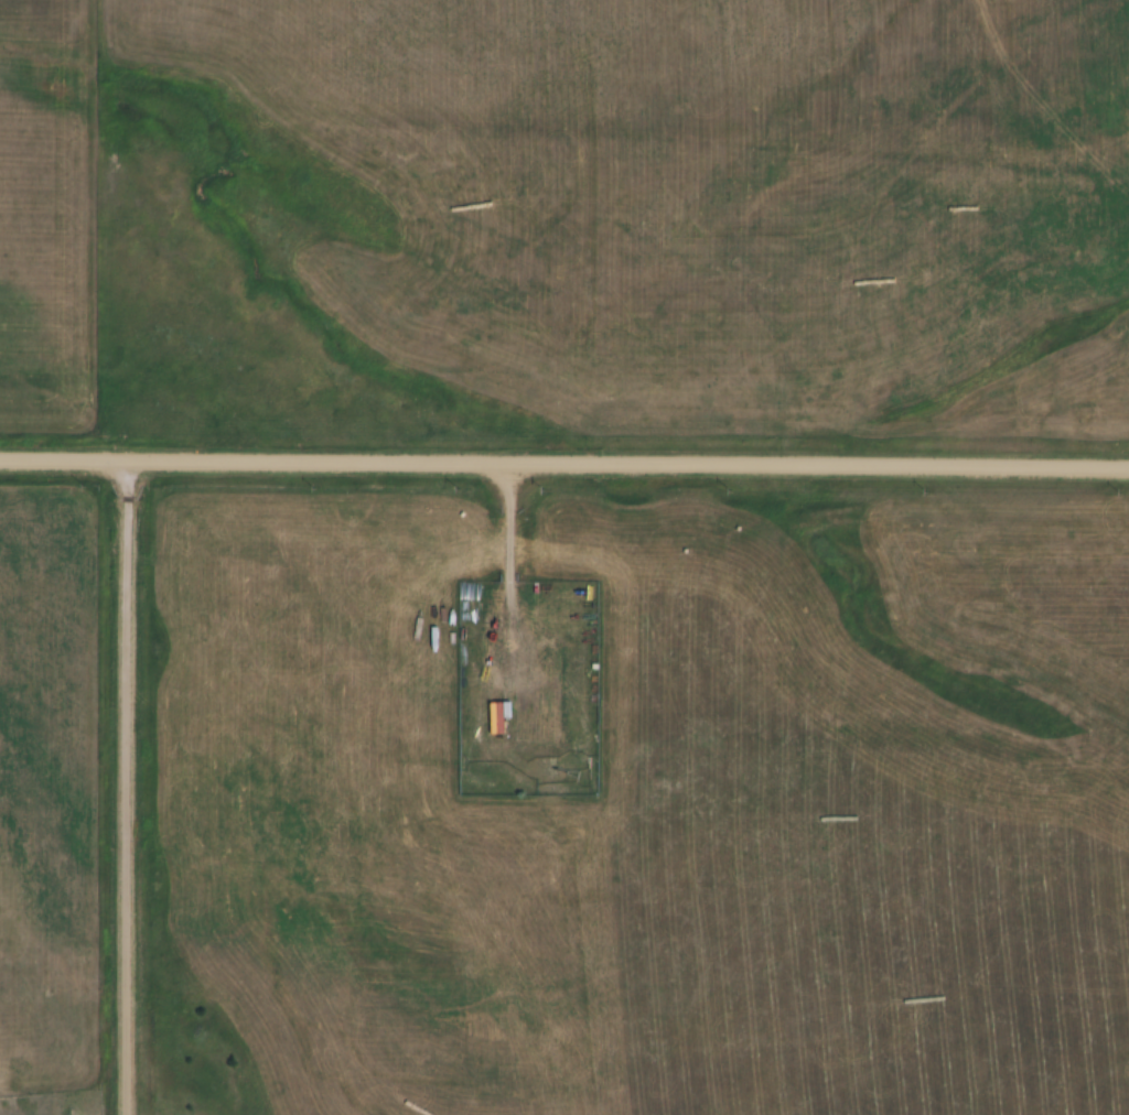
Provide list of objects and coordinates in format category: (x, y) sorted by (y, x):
road: (564, 461)
building: (494, 769)

